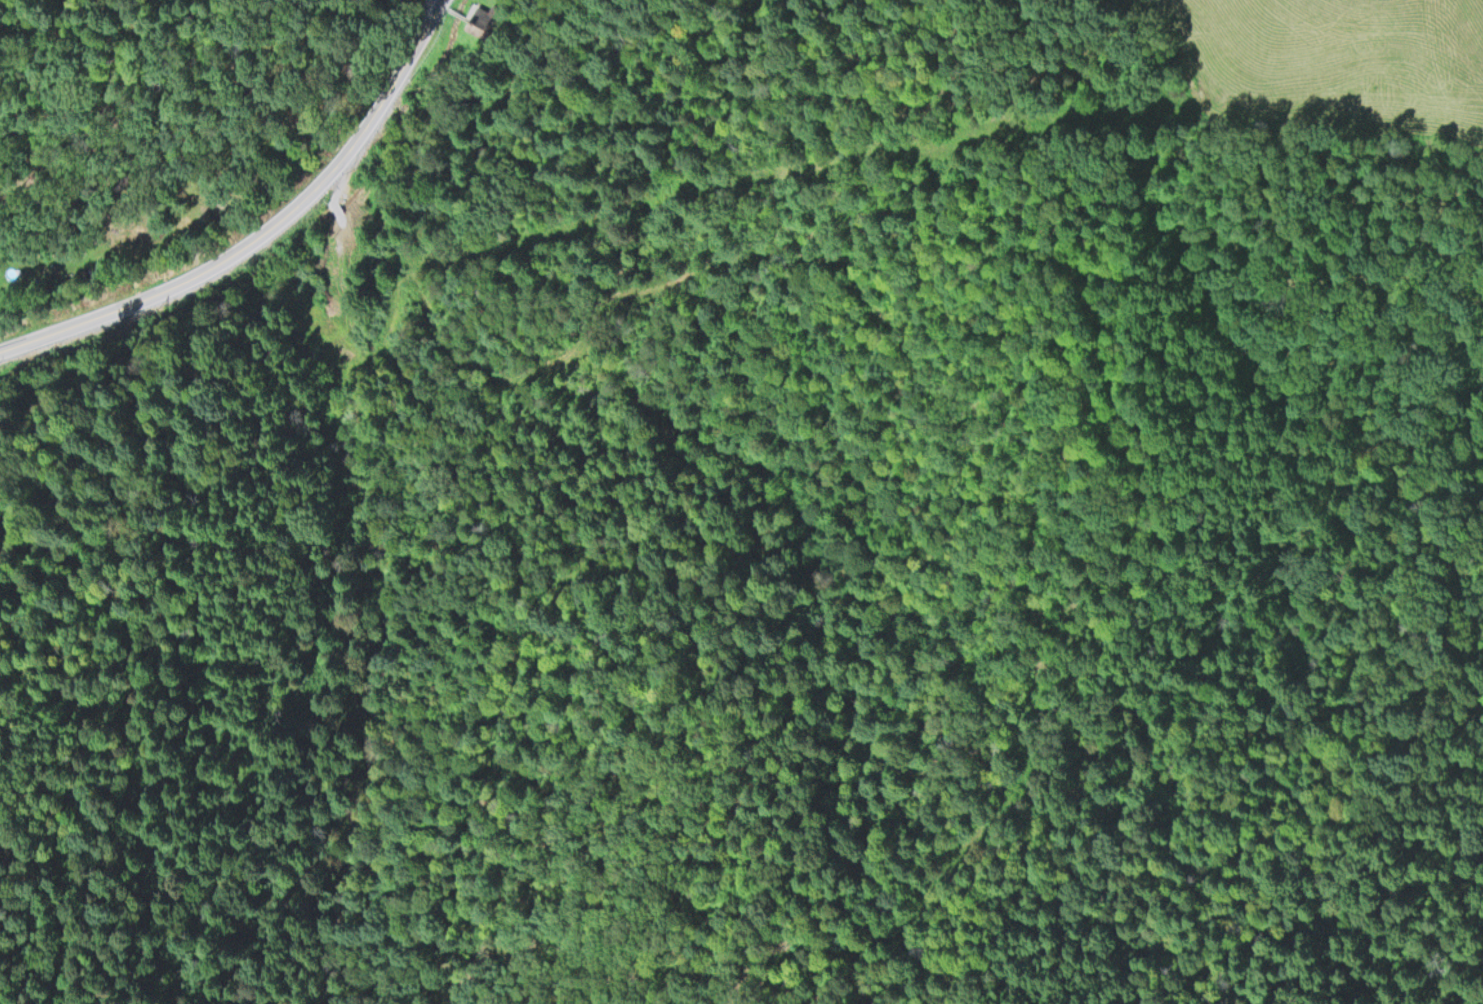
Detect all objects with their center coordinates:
parking lot: (424, 17)
building: (478, 25)
road: (1186, 72)
road: (270, 235)
road: (33, 279)
road: (594, 317)
road: (958, 657)

